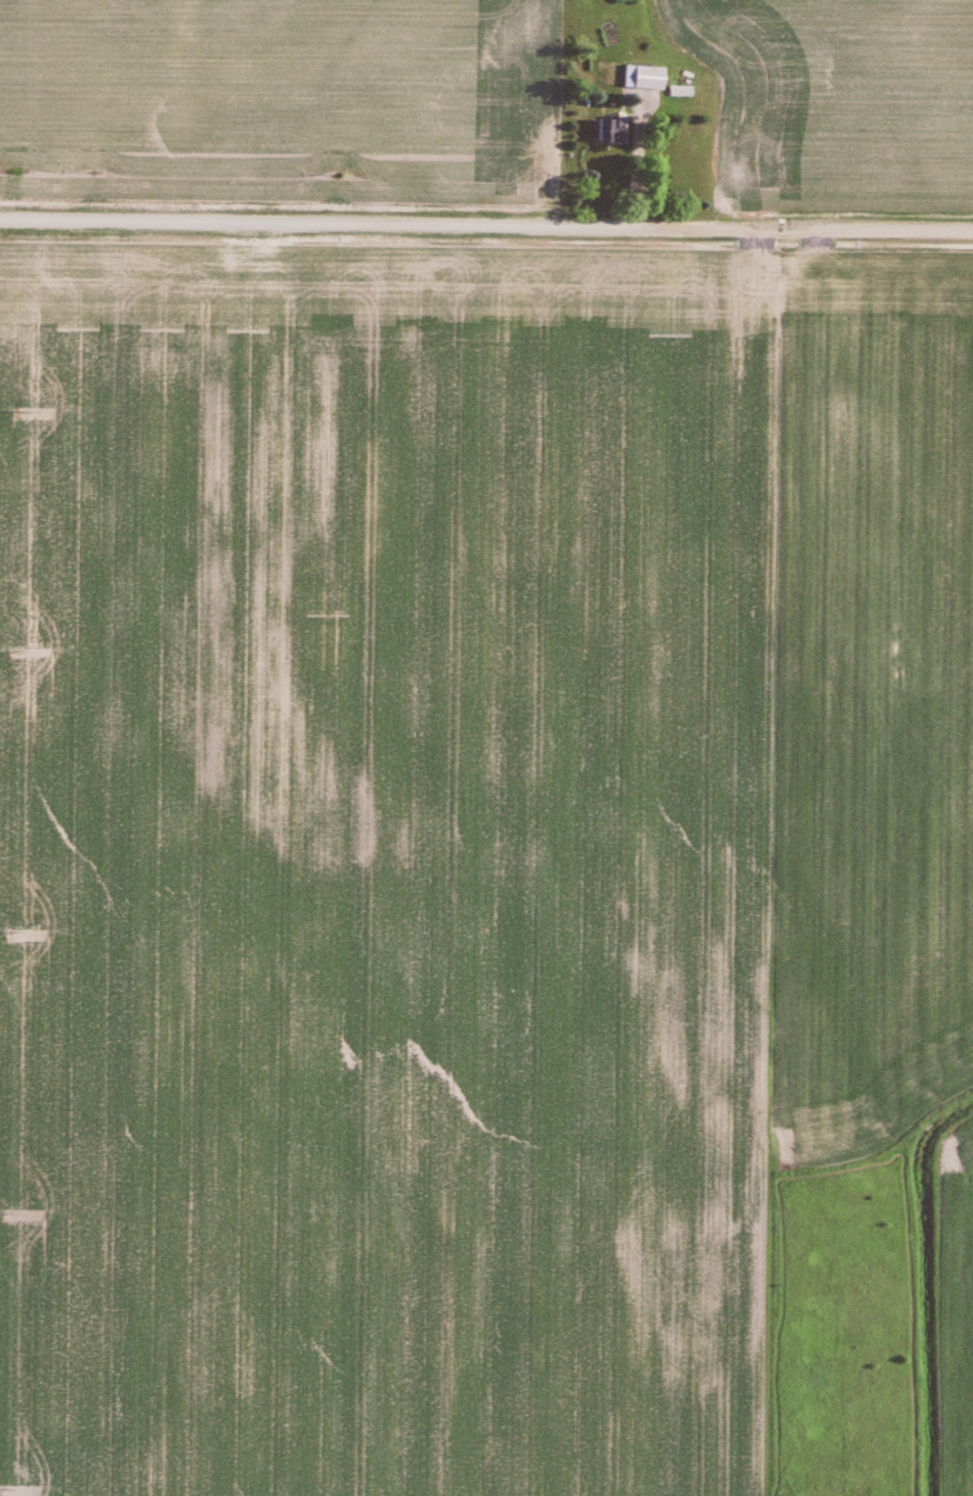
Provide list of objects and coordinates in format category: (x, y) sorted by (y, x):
building: (640, 78)
building: (607, 131)
road: (486, 225)

